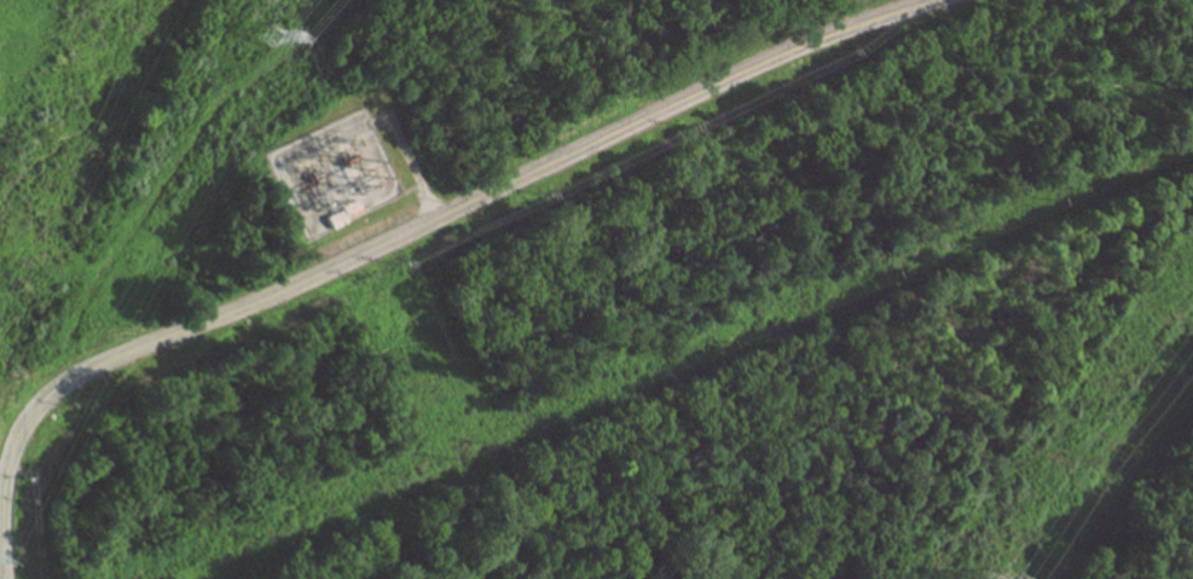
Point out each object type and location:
power tower: (268, 37)
road: (411, 160)
power substation: (334, 175)
building: (349, 209)
building: (335, 220)
road: (396, 237)
road: (44, 331)

